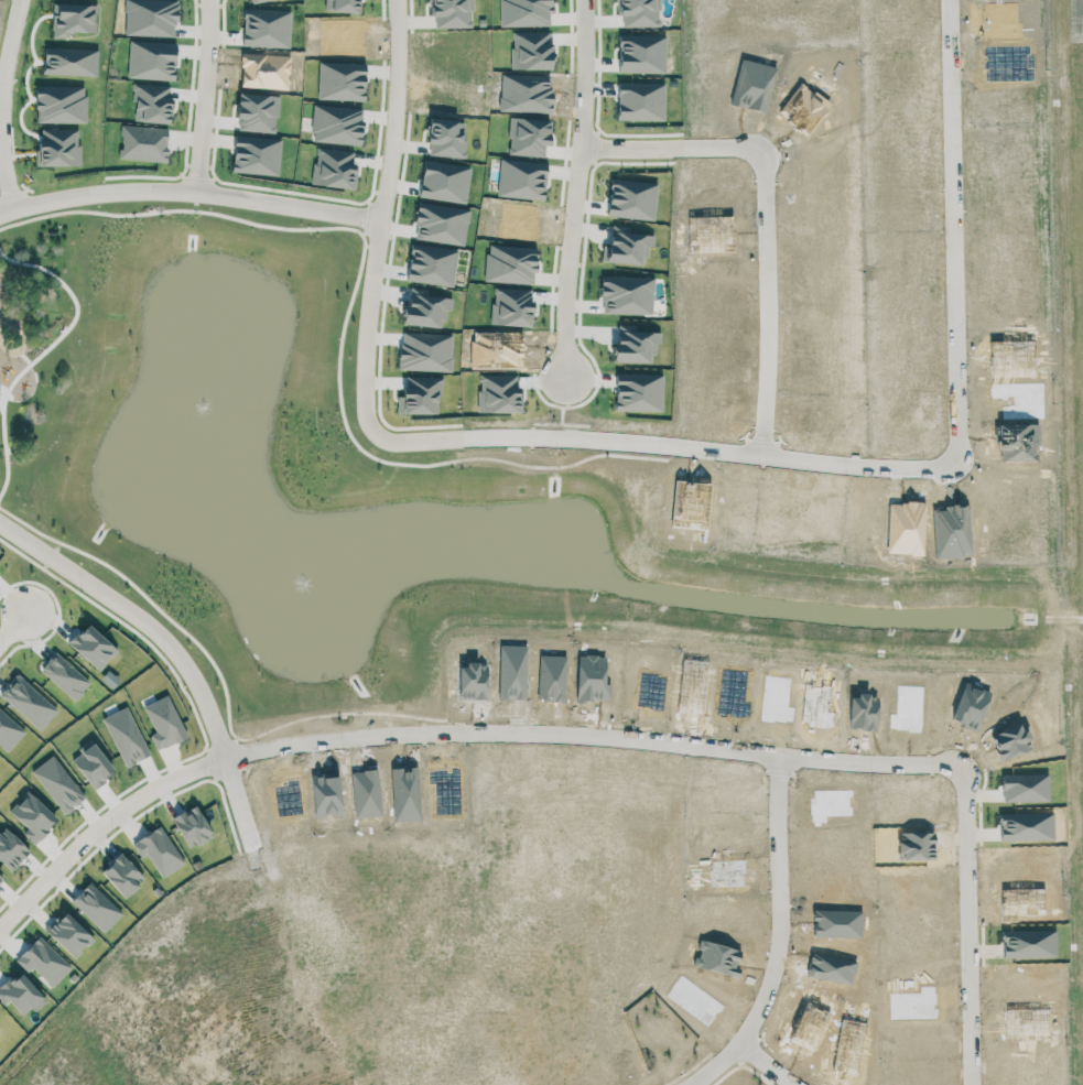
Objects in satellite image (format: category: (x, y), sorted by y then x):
building: (73, 19)
building: (151, 61)
building: (71, 62)
road: (205, 96)
building: (151, 102)
road: (2, 104)
building: (61, 104)
building: (58, 148)
road: (673, 151)
building: (521, 180)
road: (576, 187)
road: (189, 192)
building: (631, 199)
road: (381, 214)
building: (628, 246)
building: (510, 264)
building: (627, 295)
building: (511, 305)
road: (766, 310)
road: (959, 328)
building: (636, 344)
building: (425, 351)
building: (638, 392)
building: (498, 393)
building: (420, 395)
road: (567, 442)
road: (13, 628)
building: (91, 647)
road: (172, 648)
building: (64, 676)
building: (28, 702)
building: (164, 723)
building: (9, 731)
building: (126, 736)
road: (748, 755)
road: (100, 824)
building: (10, 849)
building: (159, 851)
building: (122, 875)
road: (782, 934)
road: (763, 1067)

